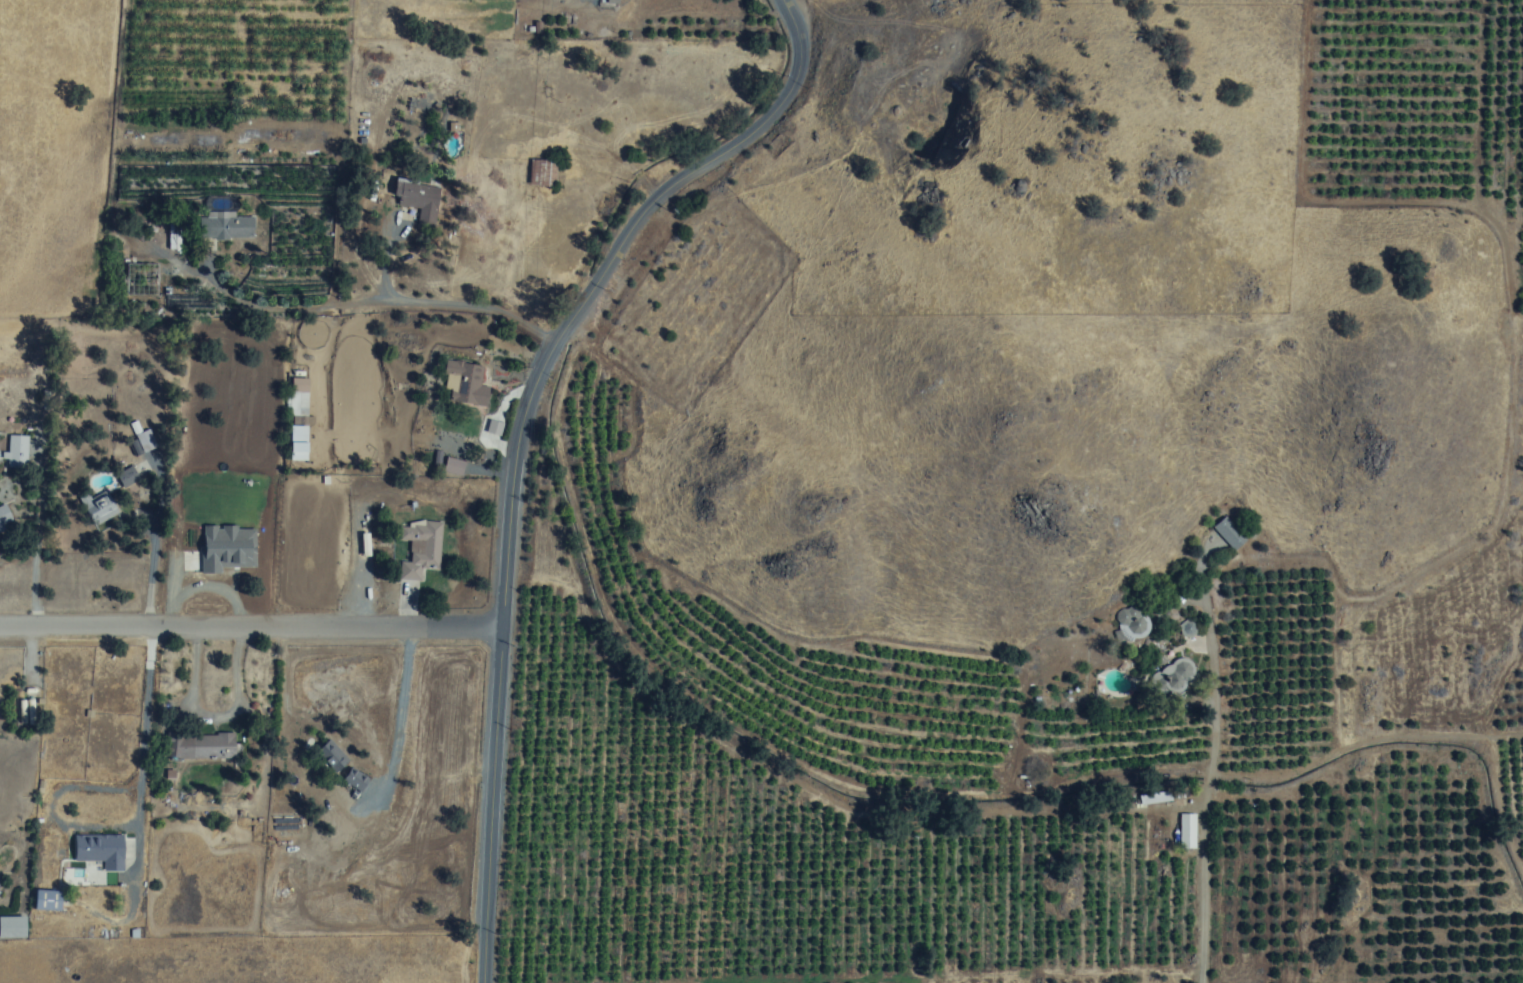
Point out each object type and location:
building: (597, 1)
building: (542, 173)
building: (419, 200)
building: (226, 225)
building: (173, 237)
road: (320, 268)
building: (142, 279)
building: (465, 386)
building: (298, 397)
road: (519, 437)
building: (145, 441)
building: (17, 452)
building: (454, 466)
building: (101, 508)
building: (4, 518)
building: (1227, 534)
road: (36, 535)
road: (153, 544)
building: (417, 545)
road: (251, 627)
building: (1178, 673)
crop: (1015, 678)
road: (1214, 696)
building: (199, 745)
building: (335, 761)
building: (359, 792)
building: (1185, 832)
building: (101, 850)
road: (1206, 889)
building: (48, 900)
building: (13, 926)

